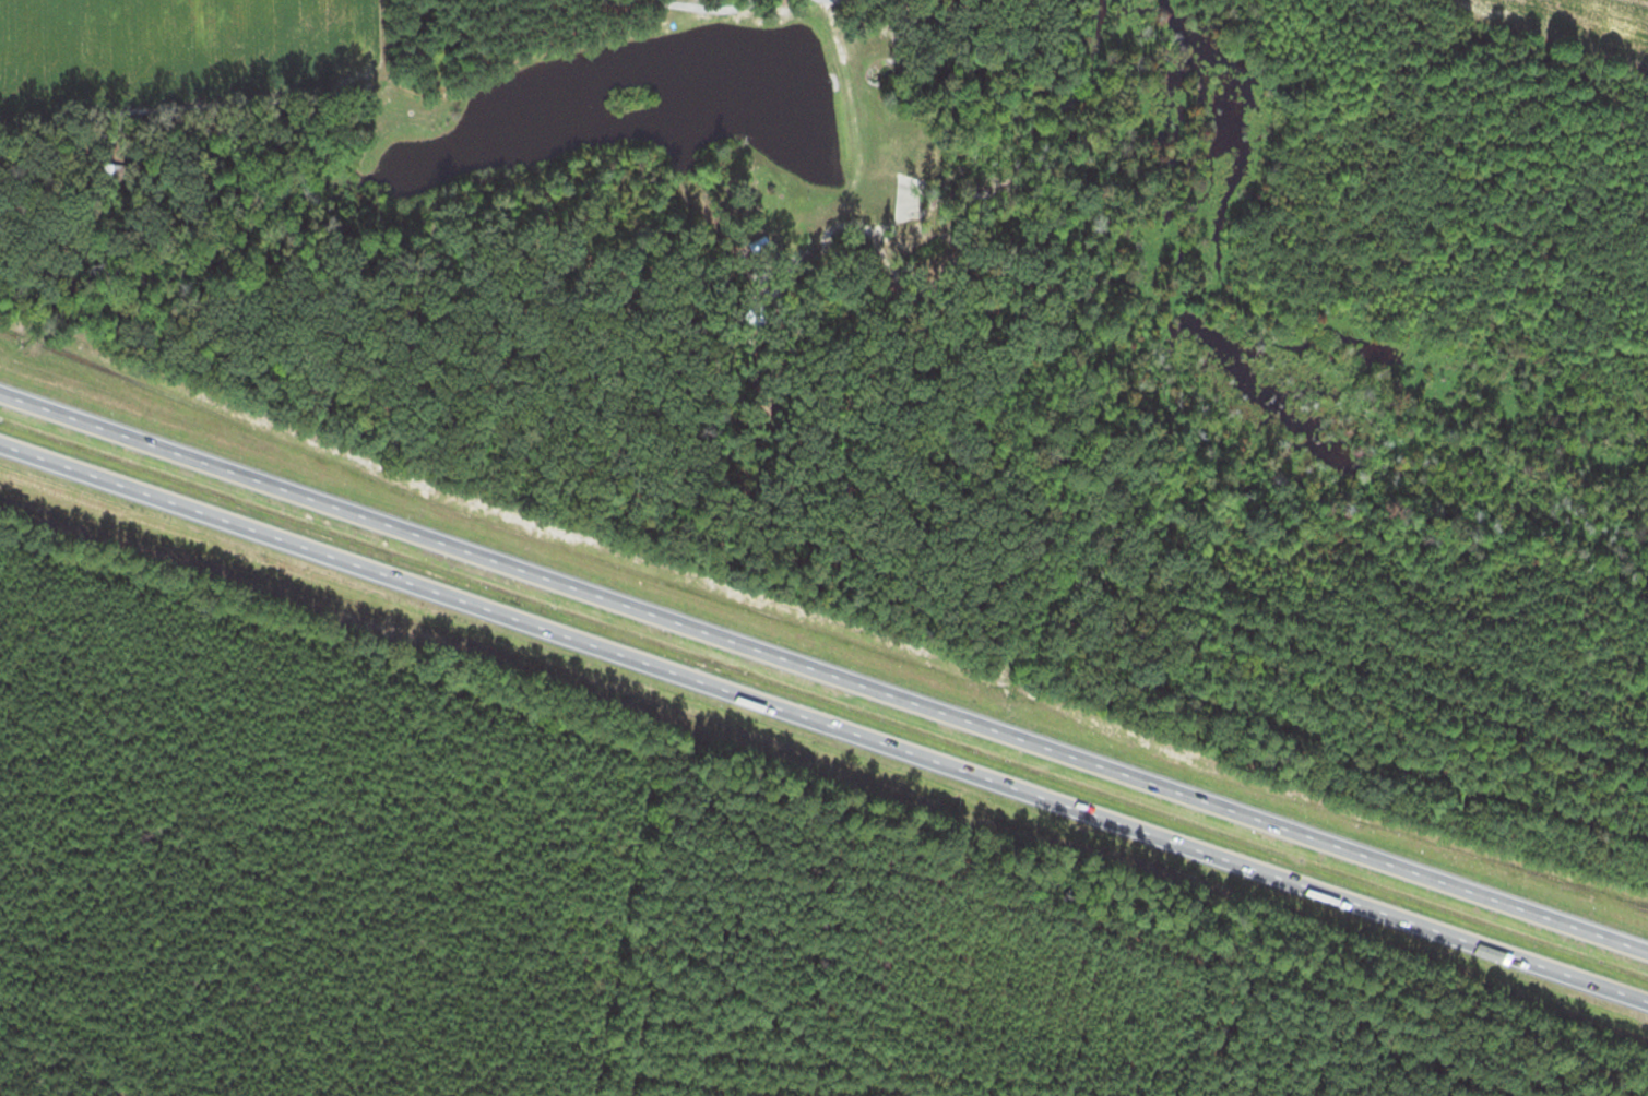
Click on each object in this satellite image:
road: (698, 7)
road: (821, 669)
road: (820, 735)

